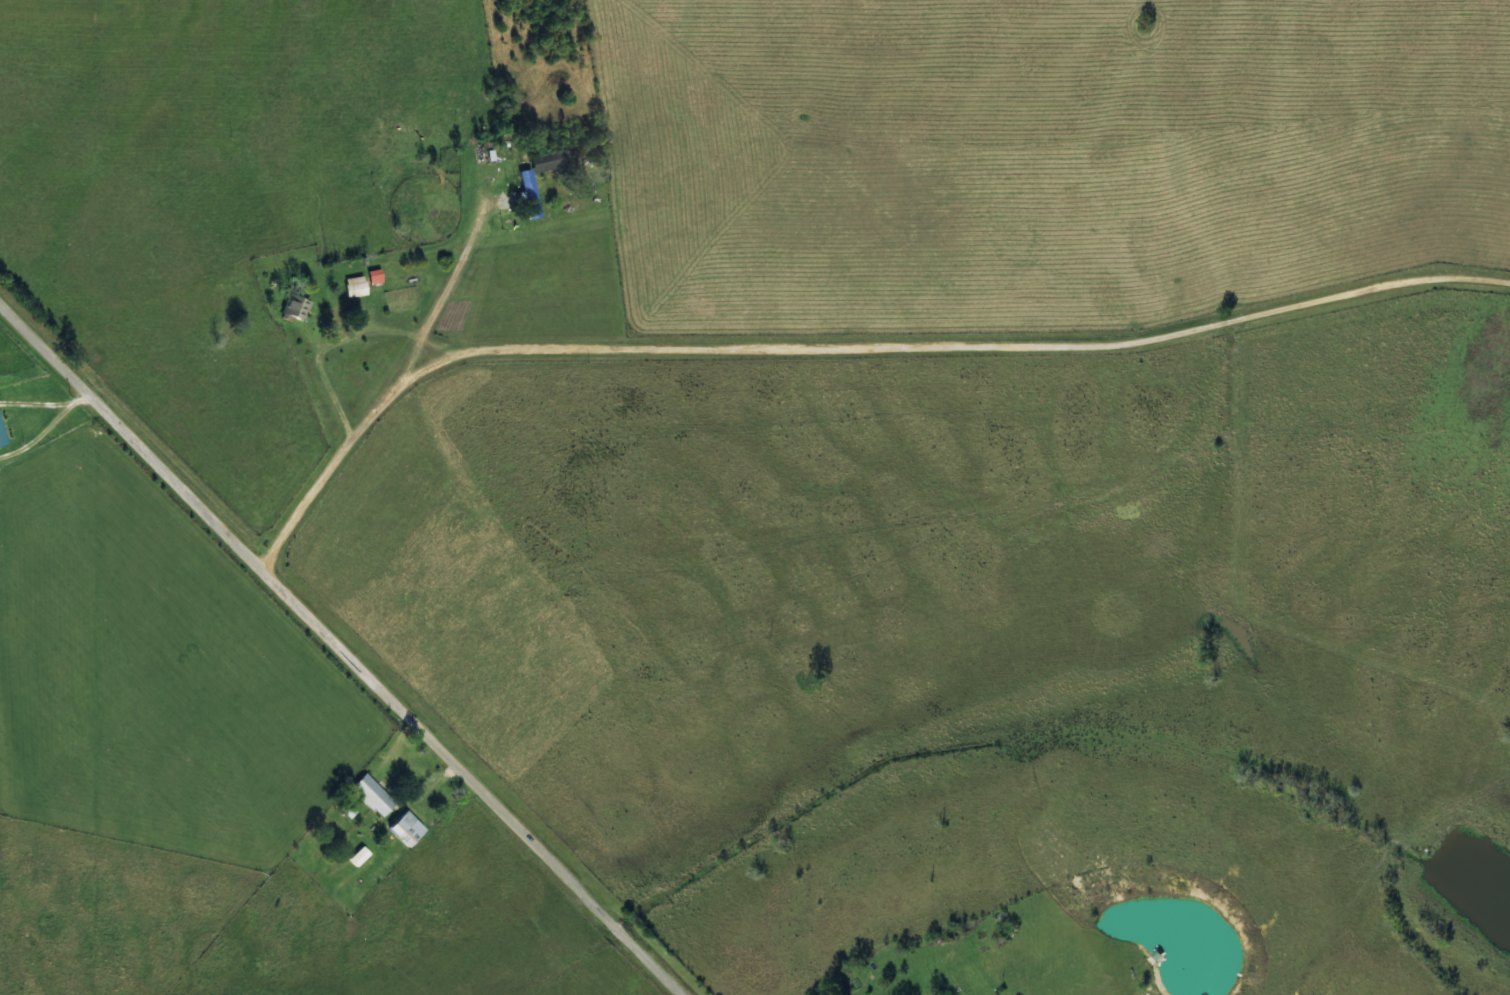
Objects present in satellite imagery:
building: (548, 160)
building: (374, 276)
building: (355, 285)
building: (296, 307)
road: (1498, 308)
road: (851, 368)
building: (2, 435)
road: (323, 661)
building: (374, 794)
building: (348, 808)
building: (407, 828)

